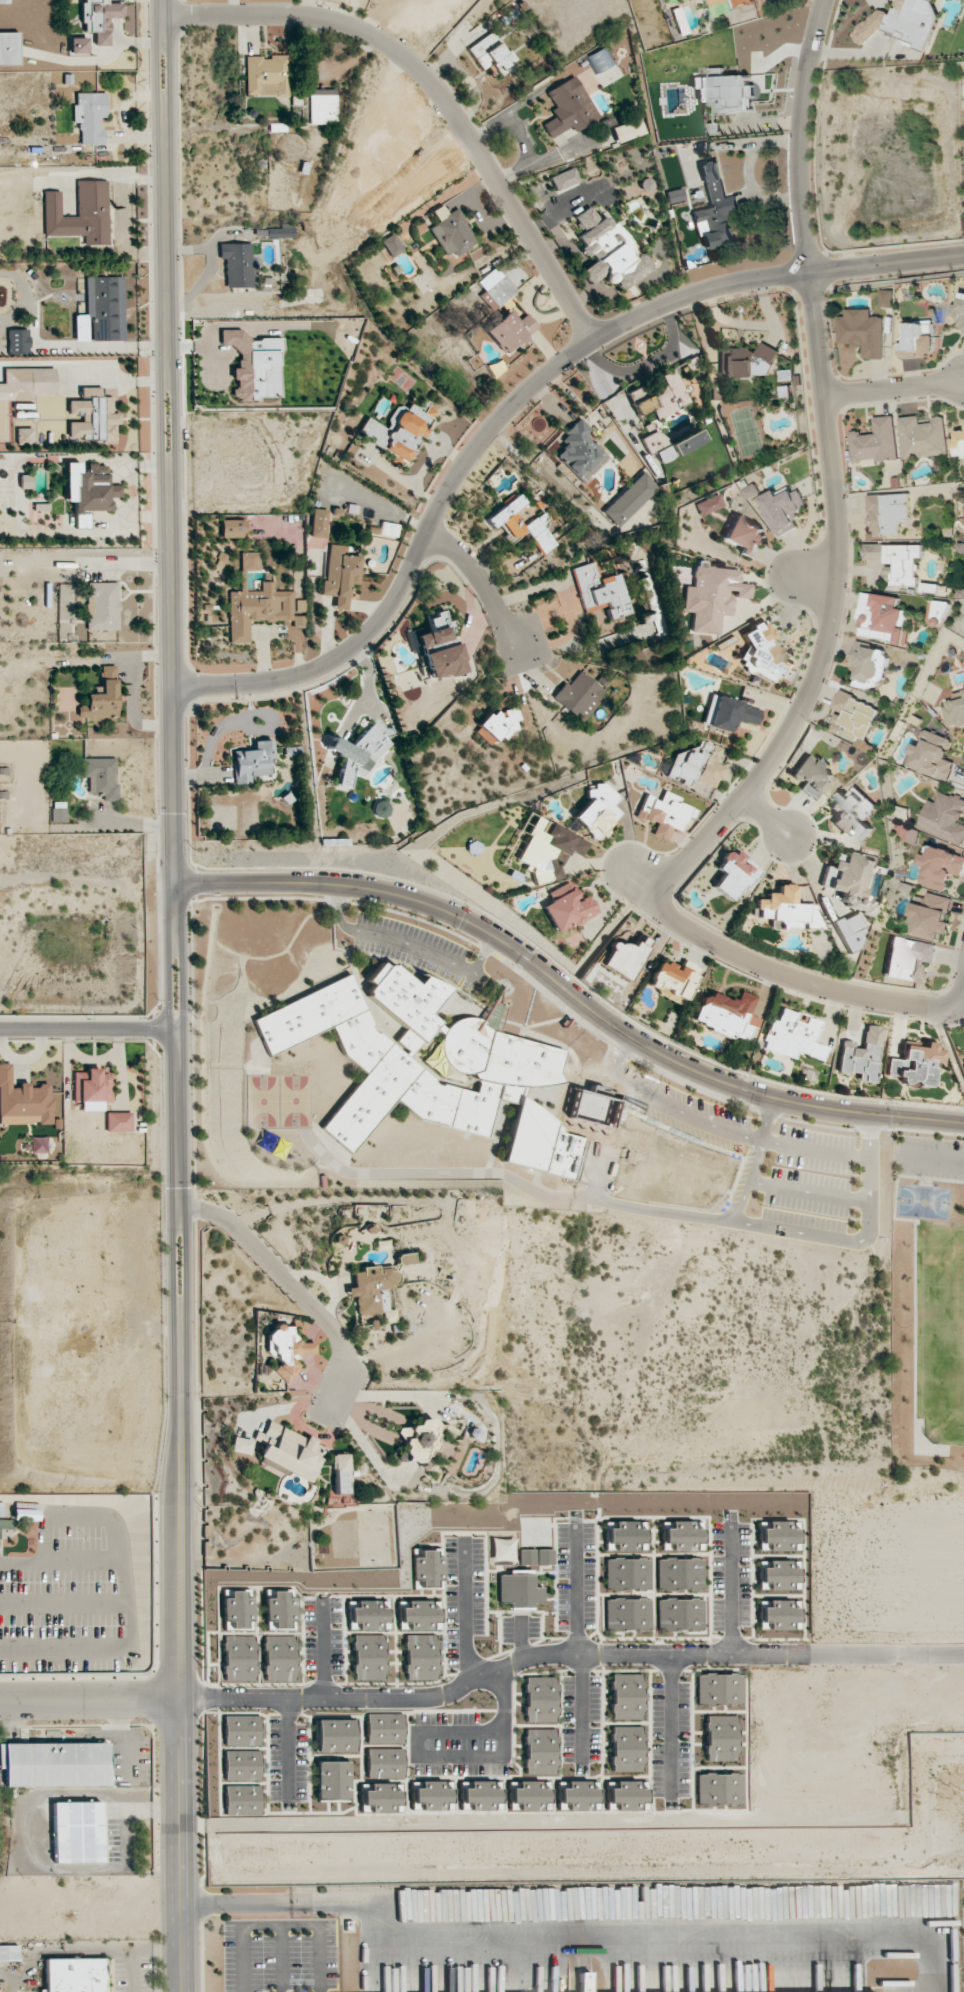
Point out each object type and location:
building: (743, 2)
road: (377, 13)
building: (99, 18)
building: (902, 22)
building: (78, 45)
building: (9, 48)
building: (493, 55)
building: (600, 60)
building: (265, 75)
road: (436, 90)
road: (518, 104)
building: (321, 107)
building: (568, 108)
building: (90, 116)
building: (626, 130)
building: (377, 132)
road: (801, 133)
road: (521, 134)
road: (541, 156)
building: (564, 179)
building: (675, 195)
building: (715, 210)
building: (80, 213)
building: (341, 230)
building: (450, 232)
building: (391, 245)
building: (607, 250)
building: (237, 264)
building: (495, 286)
building: (887, 298)
building: (105, 307)
building: (957, 312)
road: (211, 325)
building: (509, 330)
building: (863, 332)
building: (918, 339)
building: (748, 361)
building: (254, 365)
building: (27, 383)
road: (895, 389)
building: (658, 396)
road: (516, 403)
building: (93, 416)
building: (399, 429)
building: (23, 436)
building: (923, 437)
building: (875, 443)
building: (958, 443)
building: (670, 444)
building: (580, 451)
building: (89, 487)
building: (751, 491)
building: (630, 499)
building: (708, 504)
building: (783, 510)
building: (887, 513)
building: (318, 523)
building: (533, 525)
building: (232, 528)
building: (388, 529)
building: (744, 536)
building: (896, 561)
building: (0, 564)
building: (340, 575)
road: (815, 576)
road: (482, 582)
building: (600, 591)
building: (712, 596)
building: (257, 603)
building: (101, 606)
road: (832, 613)
building: (937, 613)
building: (883, 618)
building: (438, 649)
building: (764, 654)
building: (869, 664)
building: (578, 695)
building: (103, 697)
building: (954, 710)
building: (729, 713)
building: (853, 716)
building: (497, 725)
building: (358, 753)
building: (932, 755)
building: (253, 761)
building: (697, 765)
building: (812, 775)
building: (100, 777)
building: (380, 808)
building: (597, 810)
building: (664, 813)
building: (852, 813)
building: (58, 814)
road: (765, 817)
building: (944, 818)
road: (175, 849)
road: (611, 865)
building: (939, 867)
building: (734, 874)
building: (850, 881)
building: (567, 908)
building: (788, 910)
building: (930, 915)
building: (848, 933)
road: (601, 938)
road: (409, 943)
building: (624, 957)
building: (908, 958)
building: (674, 979)
road: (805, 984)
road: (570, 993)
building: (726, 1015)
road: (89, 1025)
building: (793, 1035)
building: (861, 1055)
road: (619, 1056)
building: (962, 1063)
building: (915, 1064)
building: (505, 1071)
building: (91, 1089)
building: (23, 1101)
park: (258, 1101)
park: (292, 1101)
parking lot: (685, 1111)
road: (683, 1113)
building: (118, 1122)
road: (923, 1132)
road: (599, 1138)
building: (39, 1144)
building: (277, 1148)
road: (813, 1148)
building: (659, 1155)
parking lot: (929, 1156)
road: (930, 1157)
road: (897, 1175)
road: (511, 1178)
parking lot: (809, 1179)
road: (806, 1191)
park: (924, 1202)
road: (795, 1231)
building: (404, 1258)
road: (293, 1290)
building: (372, 1292)
park: (923, 1292)
road: (915, 1319)
building: (286, 1350)
building: (416, 1439)
building: (238, 1446)
building: (286, 1450)
building: (26, 1514)
building: (5, 1528)
building: (626, 1536)
building: (682, 1536)
building: (779, 1536)
building: (526, 1556)
building: (545, 1556)
building: (428, 1569)
building: (627, 1573)
building: (679, 1573)
building: (780, 1574)
building: (518, 1588)
building: (238, 1611)
building: (280, 1611)
building: (422, 1614)
building: (627, 1614)
building: (680, 1614)
building: (371, 1615)
building: (779, 1615)
road: (567, 1654)
building: (368, 1657)
building: (420, 1657)
building: (239, 1658)
building: (279, 1658)
building: (719, 1689)
building: (626, 1696)
road: (89, 1699)
building: (539, 1699)
road: (581, 1712)
building: (384, 1728)
building: (241, 1730)
building: (335, 1735)
building: (720, 1738)
building: (626, 1749)
building: (539, 1751)
road: (449, 1756)
building: (384, 1763)
building: (54, 1764)
building: (241, 1765)
building: (332, 1780)
building: (718, 1788)
building: (481, 1795)
building: (431, 1796)
building: (529, 1796)
building: (626, 1796)
building: (382, 1797)
building: (241, 1800)
road: (23, 1827)
building: (77, 1832)
road: (180, 1845)
building: (474, 1906)
road: (278, 1926)
building: (9, 1953)
road: (139, 1955)
road: (281, 1958)
building: (75, 1975)
building: (584, 1982)

